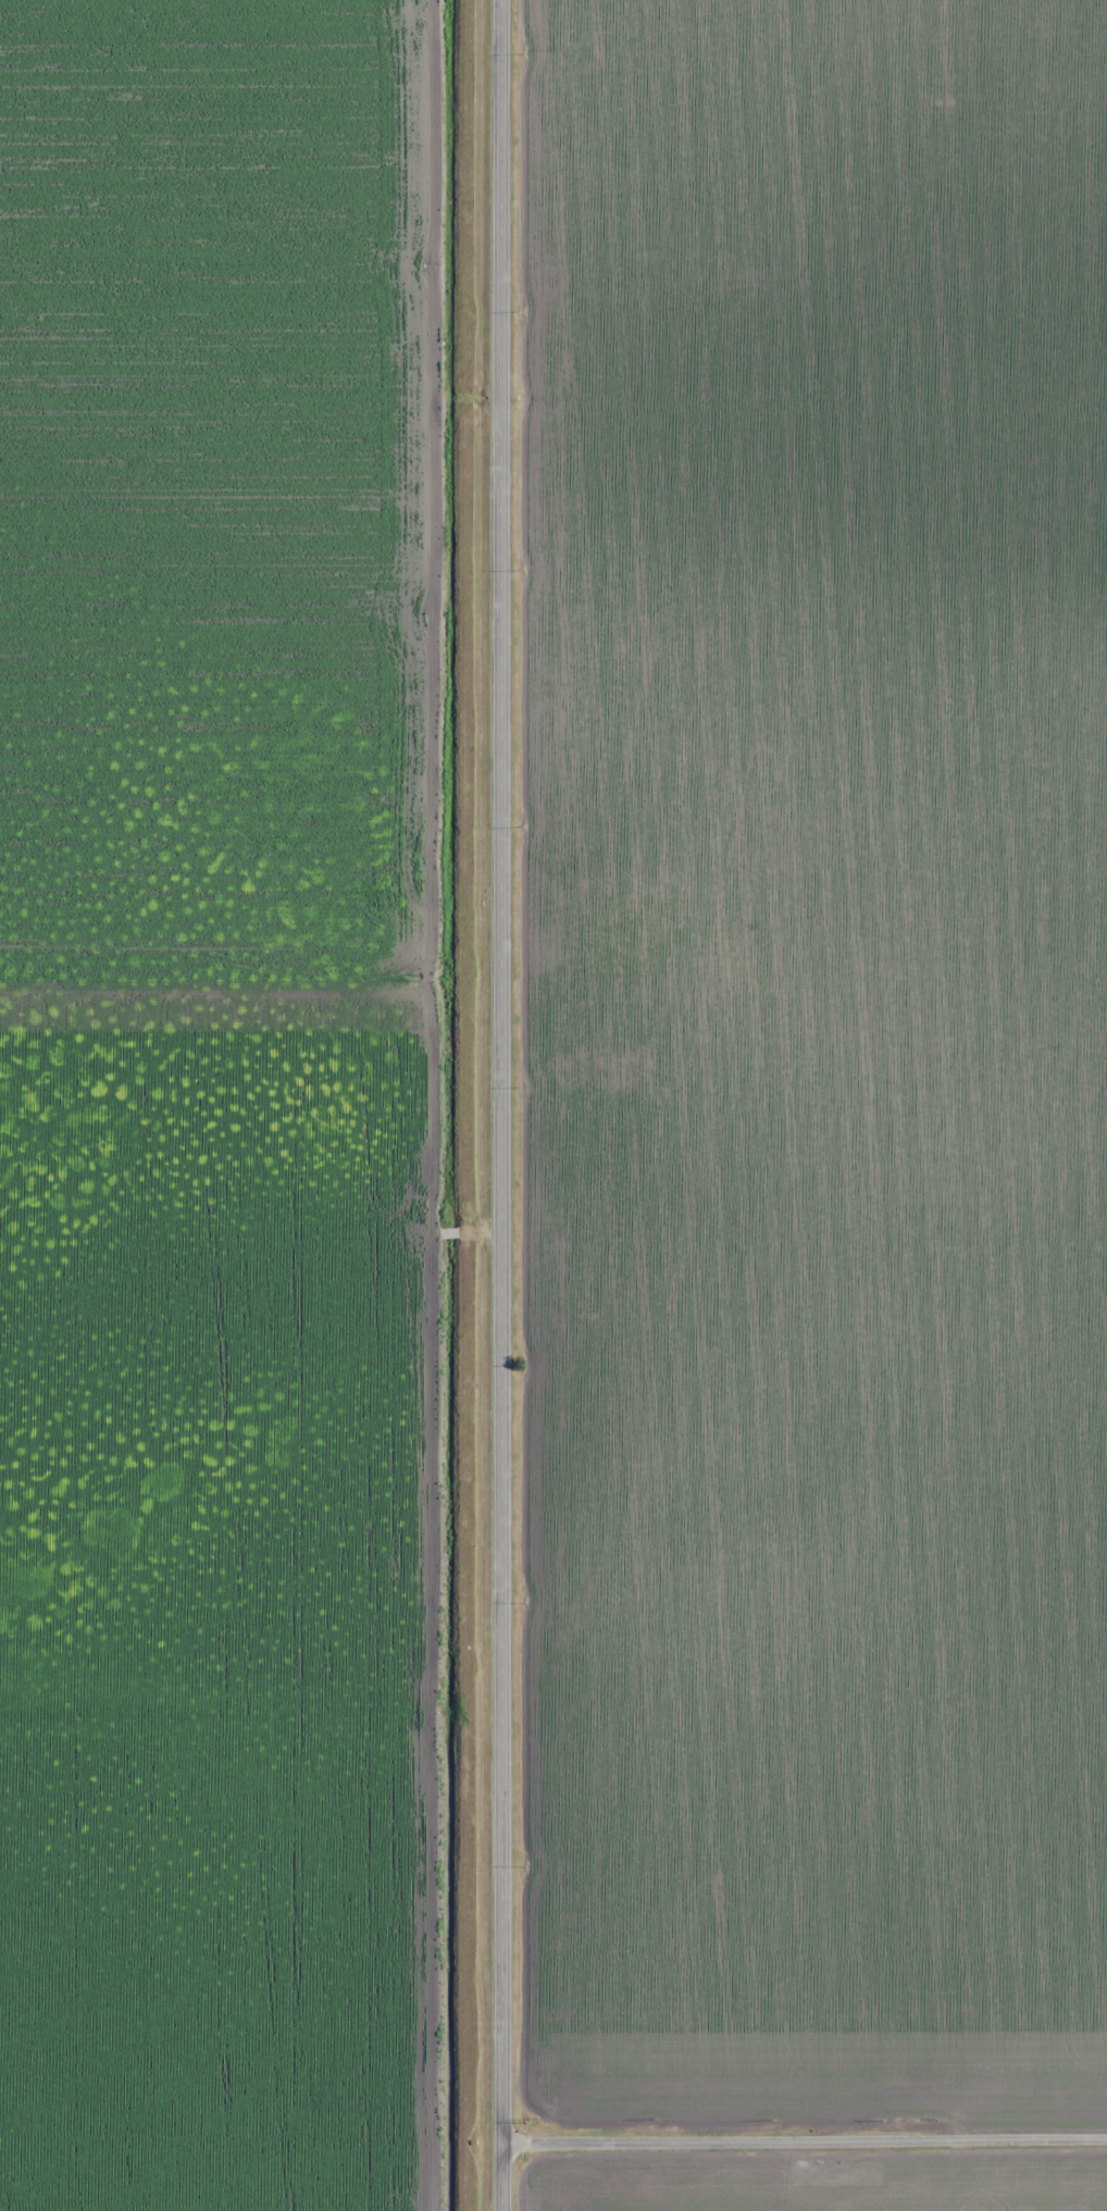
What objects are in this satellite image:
road: (502, 1105)
crop: (217, 1109)
road: (805, 2132)

